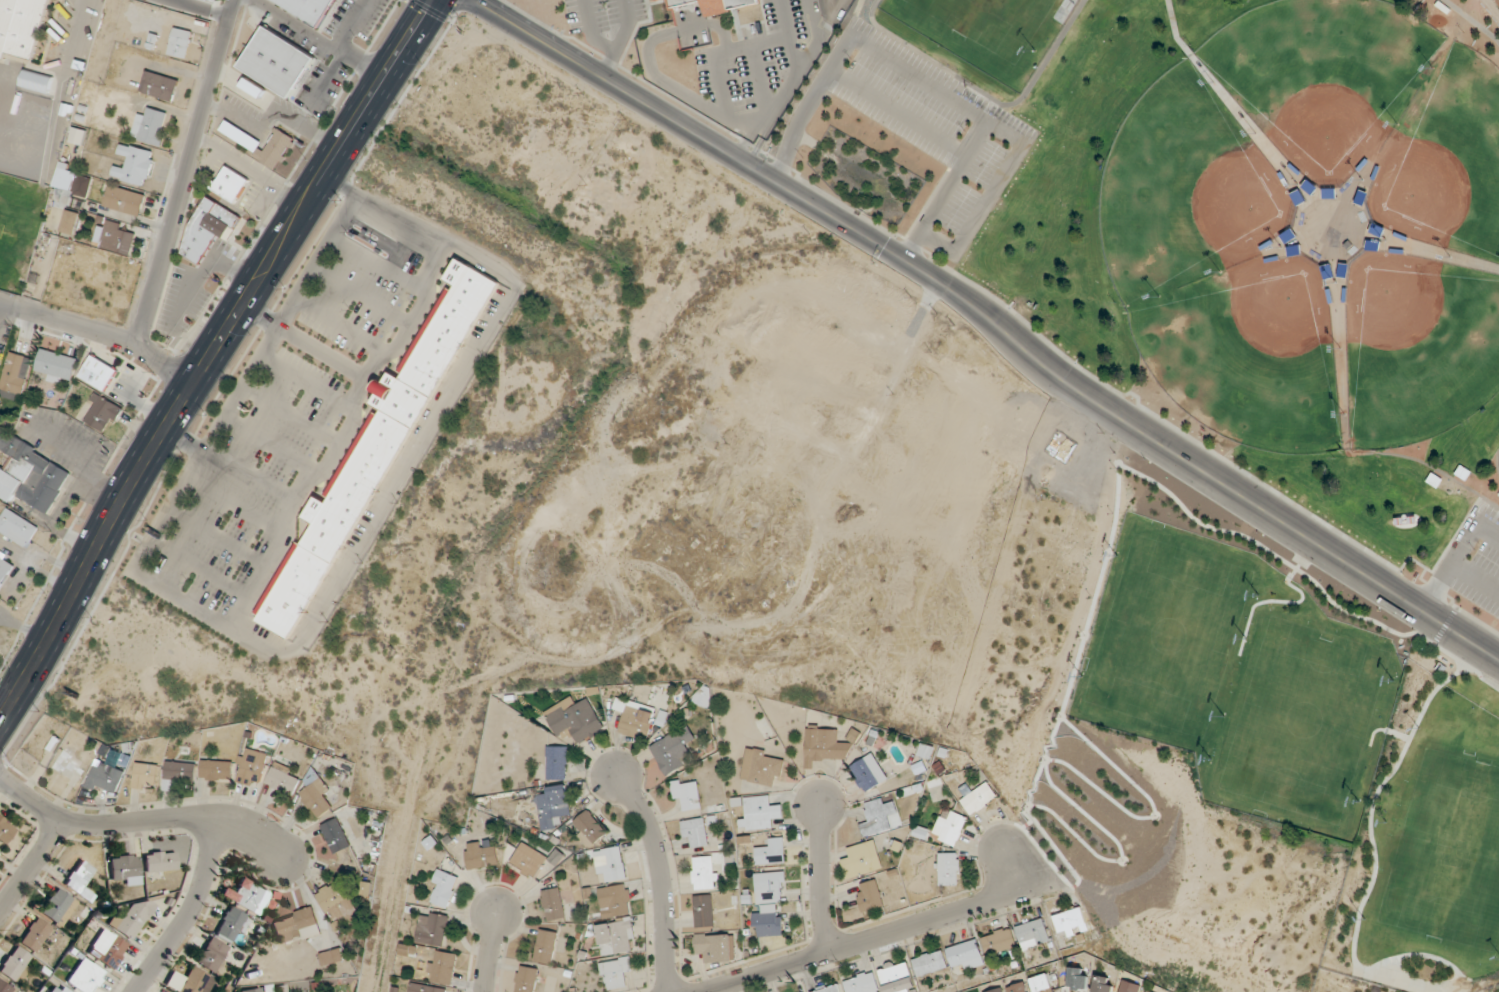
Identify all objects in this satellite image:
building: (660, 0)
building: (715, 4)
road: (199, 9)
building: (310, 10)
road: (1471, 20)
park: (992, 21)
road: (349, 24)
building: (21, 26)
road: (1175, 29)
road: (590, 31)
road: (320, 38)
road: (619, 39)
building: (180, 42)
building: (277, 61)
park: (1324, 76)
road: (325, 80)
building: (36, 81)
building: (158, 85)
building: (252, 89)
road: (937, 90)
road: (985, 93)
road: (898, 112)
building: (151, 126)
building: (77, 135)
building: (260, 143)
park: (1446, 161)
building: (135, 165)
road: (184, 172)
building: (65, 177)
building: (231, 184)
building: (83, 186)
park: (1185, 187)
road: (946, 190)
building: (1303, 192)
building: (124, 200)
park: (1174, 213)
building: (69, 221)
building: (208, 230)
building: (115, 236)
road: (993, 321)
road: (280, 323)
road: (100, 332)
road: (303, 343)
park: (1418, 346)
park: (1250, 354)
road: (209, 355)
building: (56, 366)
building: (98, 373)
building: (15, 376)
road: (367, 378)
building: (103, 413)
road: (1496, 462)
road: (1425, 463)
building: (366, 465)
building: (31, 474)
building: (16, 527)
road: (1489, 529)
road: (1455, 535)
road: (1266, 548)
parking lot: (1474, 558)
road: (1451, 566)
building: (4, 570)
road: (1476, 577)
road: (1288, 601)
road: (1450, 603)
road: (1445, 625)
park: (1168, 636)
road: (1459, 658)
park: (1305, 702)
building: (634, 718)
building: (574, 719)
park: (1303, 725)
road: (1385, 729)
building: (825, 746)
building: (672, 750)
building: (557, 763)
building: (69, 765)
building: (252, 767)
building: (761, 767)
building: (216, 770)
building: (178, 773)
building: (869, 774)
building: (145, 776)
building: (105, 777)
building: (282, 779)
building: (687, 793)
building: (315, 794)
building: (978, 798)
building: (553, 806)
building: (758, 812)
building: (878, 817)
road: (140, 820)
building: (949, 826)
building: (589, 828)
building: (4, 831)
building: (695, 832)
building: (335, 835)
building: (771, 851)
park: (1450, 853)
building: (480, 855)
building: (528, 860)
building: (860, 860)
building: (159, 861)
building: (610, 864)
road: (1013, 864)
road: (31, 866)
building: (949, 868)
building: (126, 869)
building: (705, 872)
road: (661, 874)
road: (820, 874)
road: (1373, 877)
building: (80, 879)
building: (770, 887)
building: (443, 888)
building: (248, 895)
building: (870, 895)
building: (615, 901)
building: (337, 902)
building: (553, 904)
building: (58, 907)
building: (704, 910)
road: (190, 913)
building: (132, 918)
building: (1070, 922)
building: (767, 923)
building: (231, 924)
building: (295, 924)
building: (433, 928)
building: (1032, 933)
building: (34, 934)
building: (615, 938)
road: (861, 939)
building: (998, 941)
building: (546, 946)
building: (715, 946)
building: (107, 948)
road: (489, 950)
building: (212, 954)
building: (965, 954)
building: (332, 957)
building: (929, 963)
building: (16, 964)
building: (442, 967)
building: (615, 972)
building: (84, 976)
building: (897, 977)
building: (1079, 978)
building: (527, 979)
building: (190, 981)
building: (862, 983)
building: (1042, 984)
building: (1104, 984)
building: (4, 987)
building: (1019, 987)
building: (1129, 987)
building: (58, 988)
building: (426, 988)
building: (829, 989)
building: (997, 990)
building: (1151, 991)

